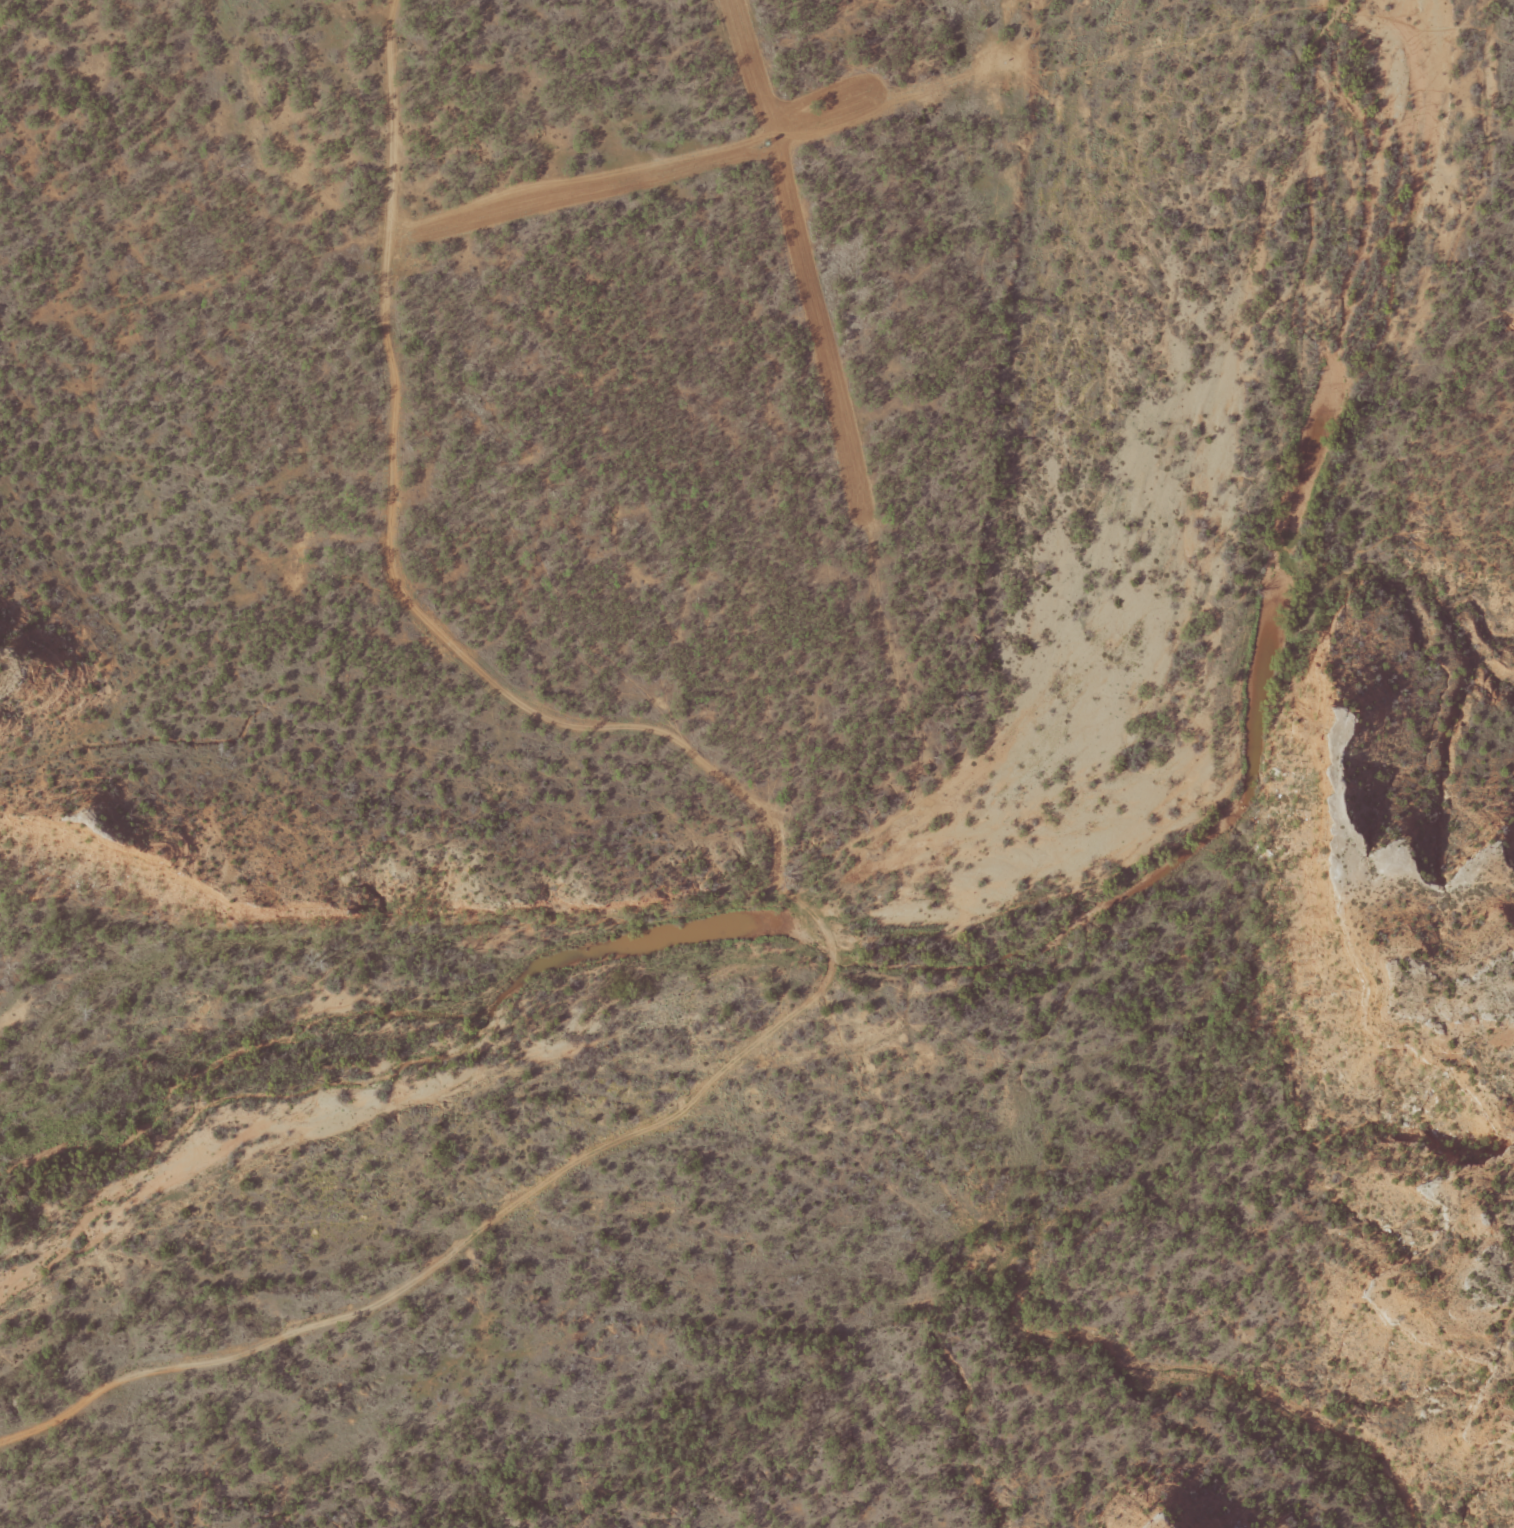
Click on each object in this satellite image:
road: (386, 1323)

